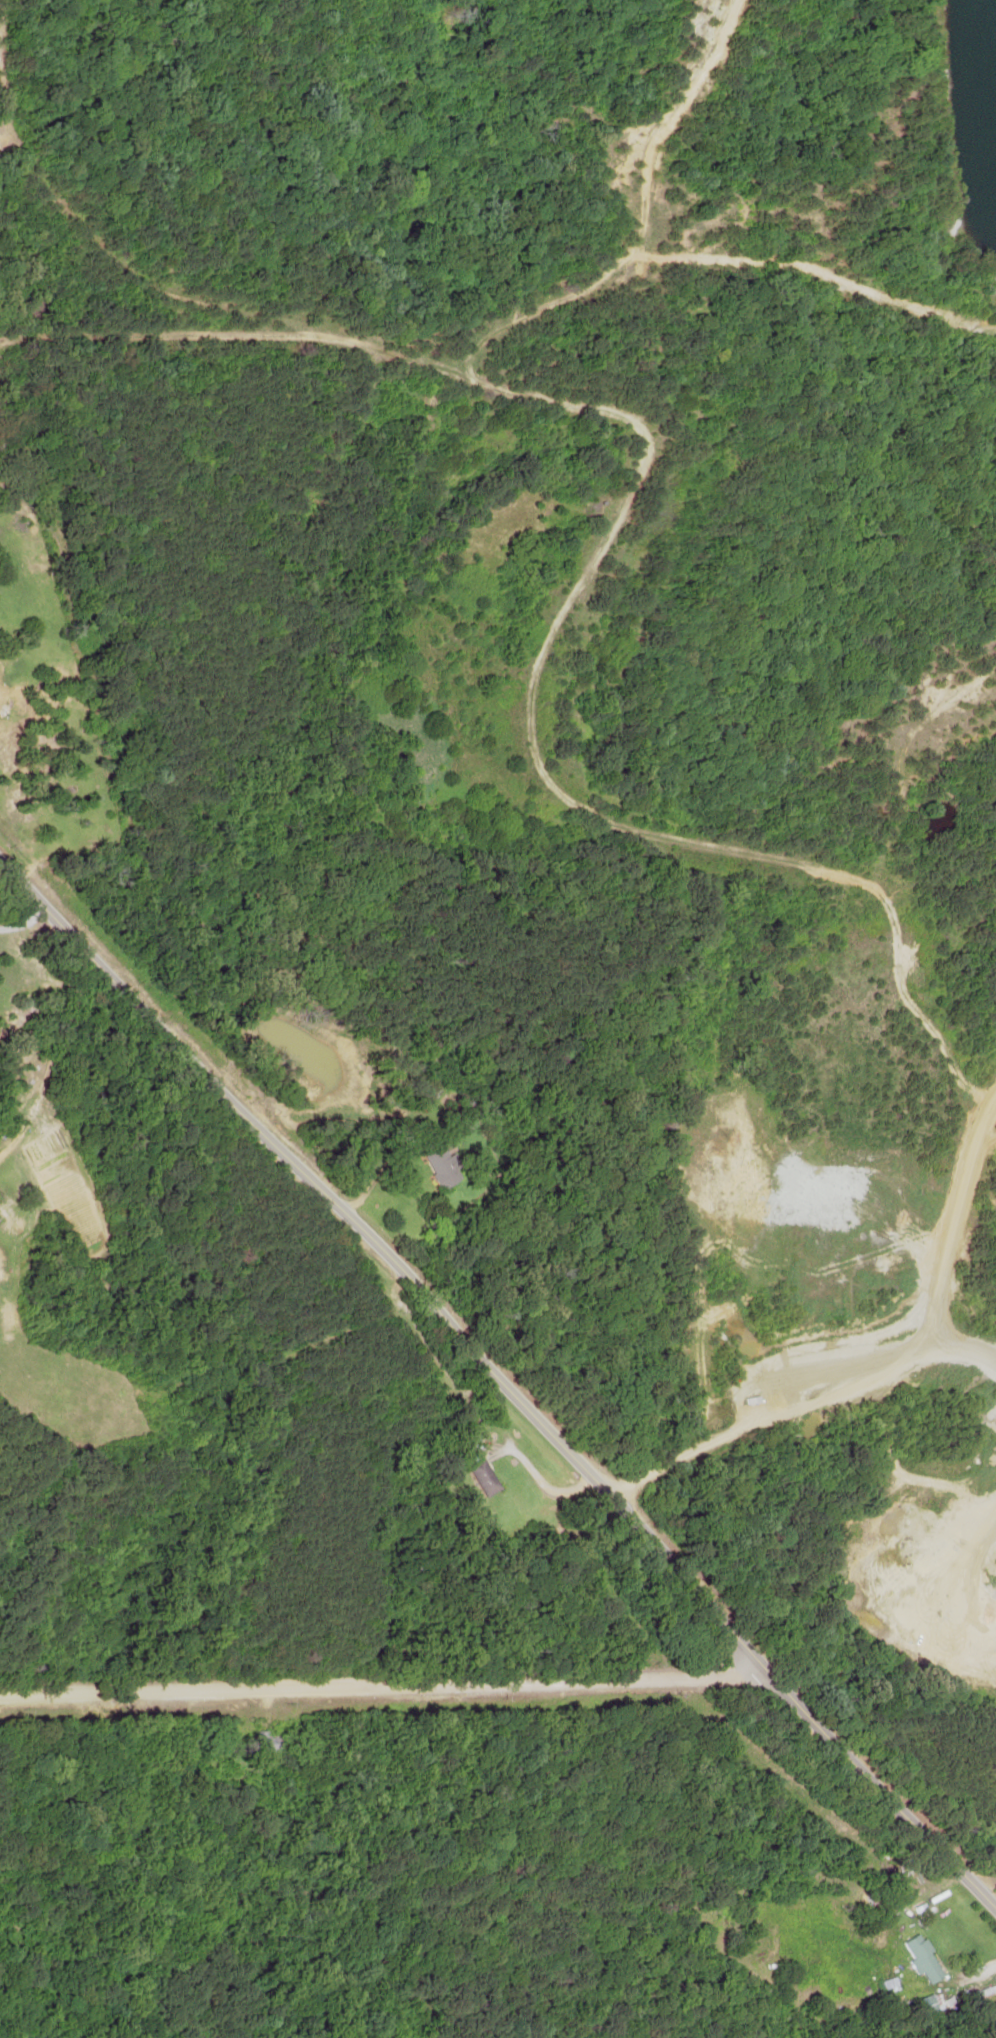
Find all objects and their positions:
building: (439, 1161)
road: (504, 1380)
road: (798, 1411)
building: (471, 1475)
road: (383, 1682)
building: (233, 1741)
building: (870, 1902)
building: (914, 1957)
road: (966, 1973)

